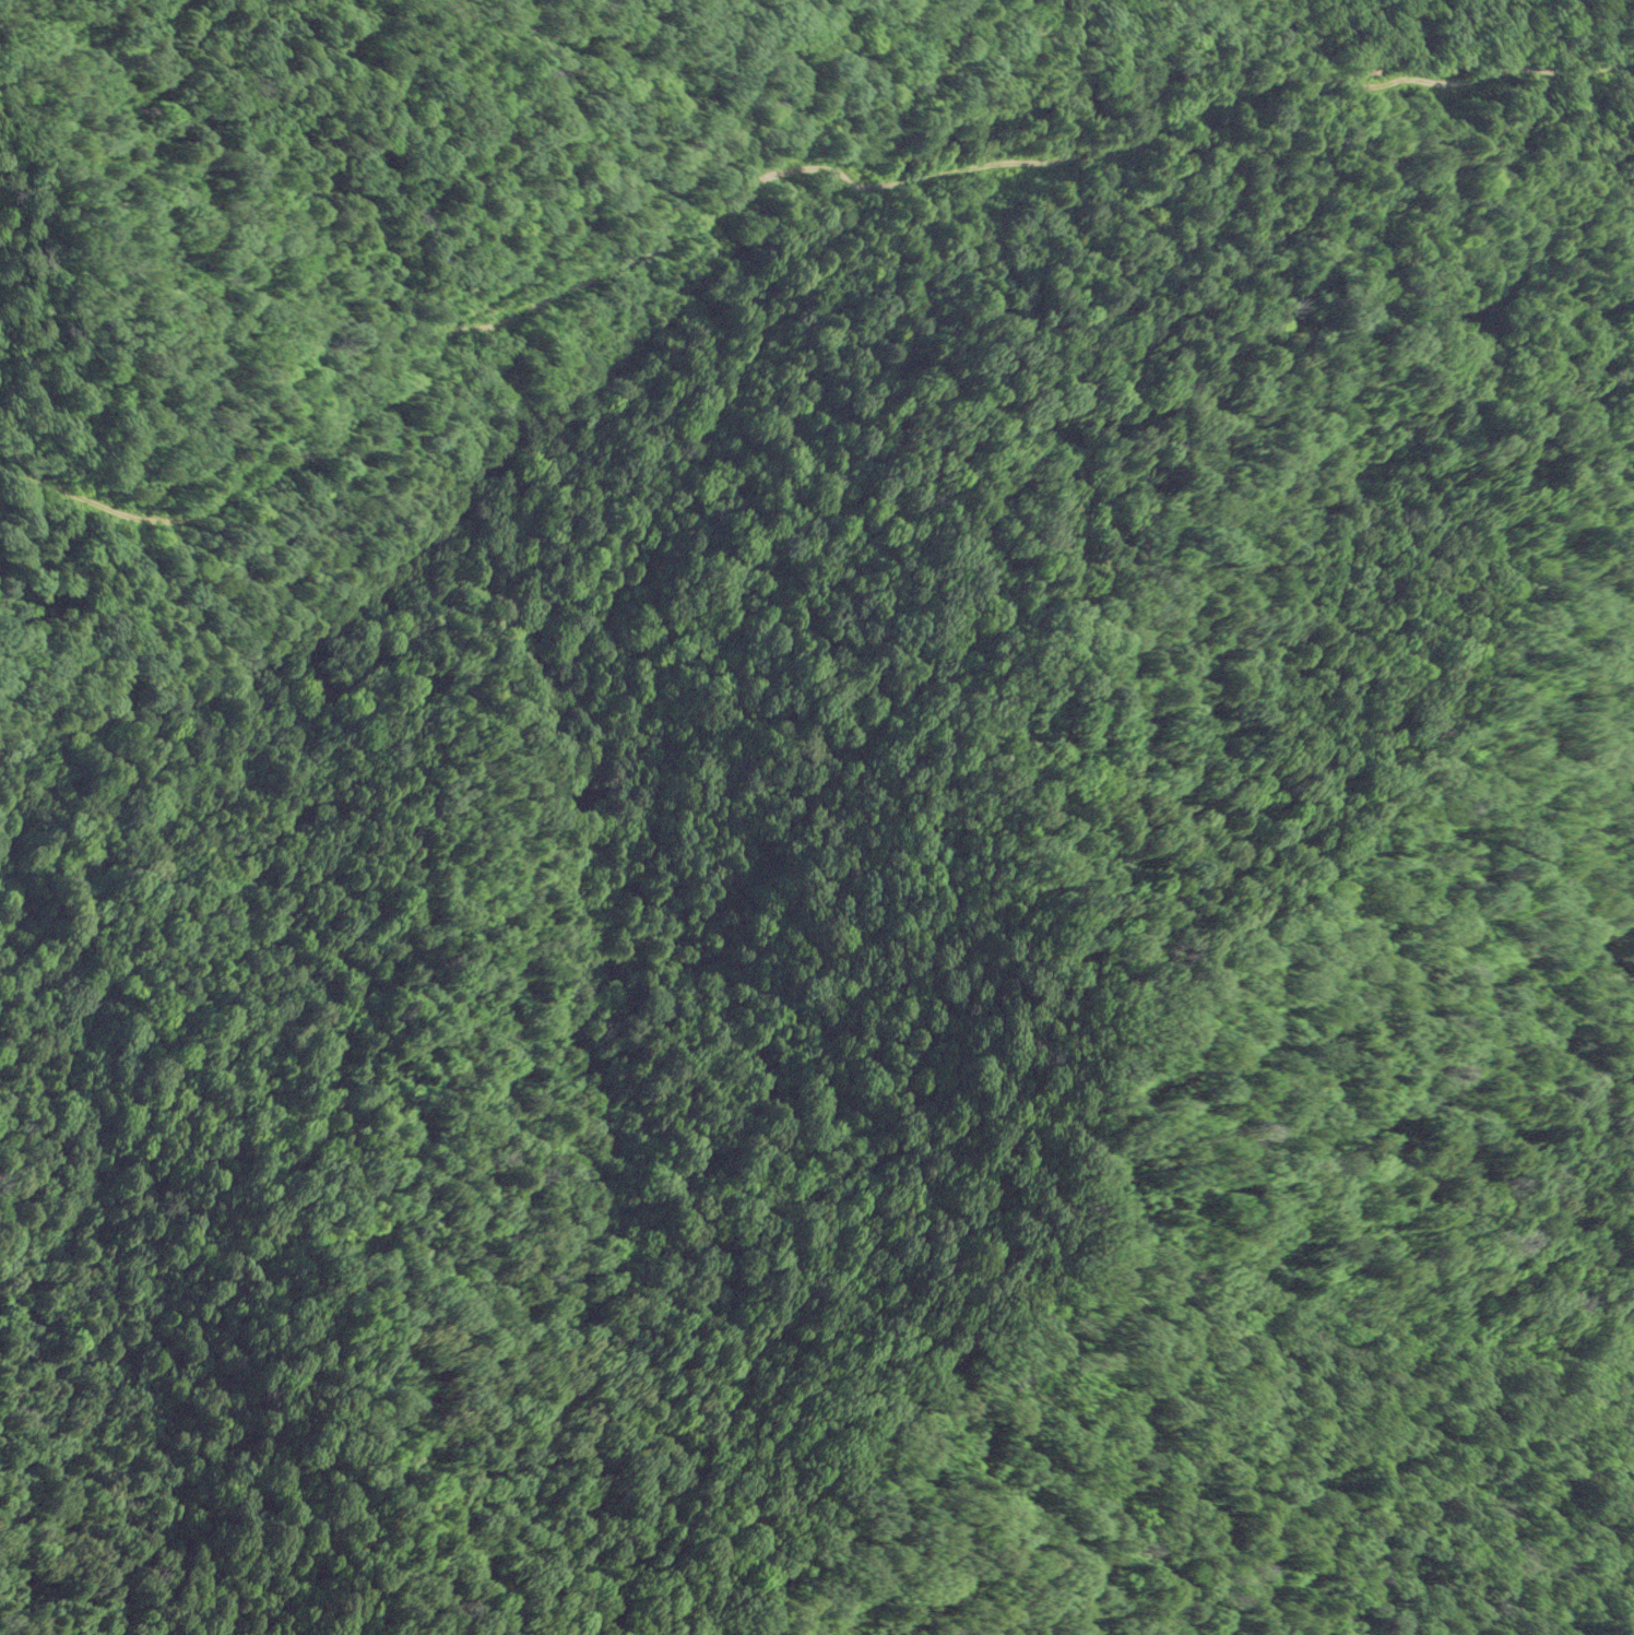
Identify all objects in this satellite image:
road: (1543, 78)

